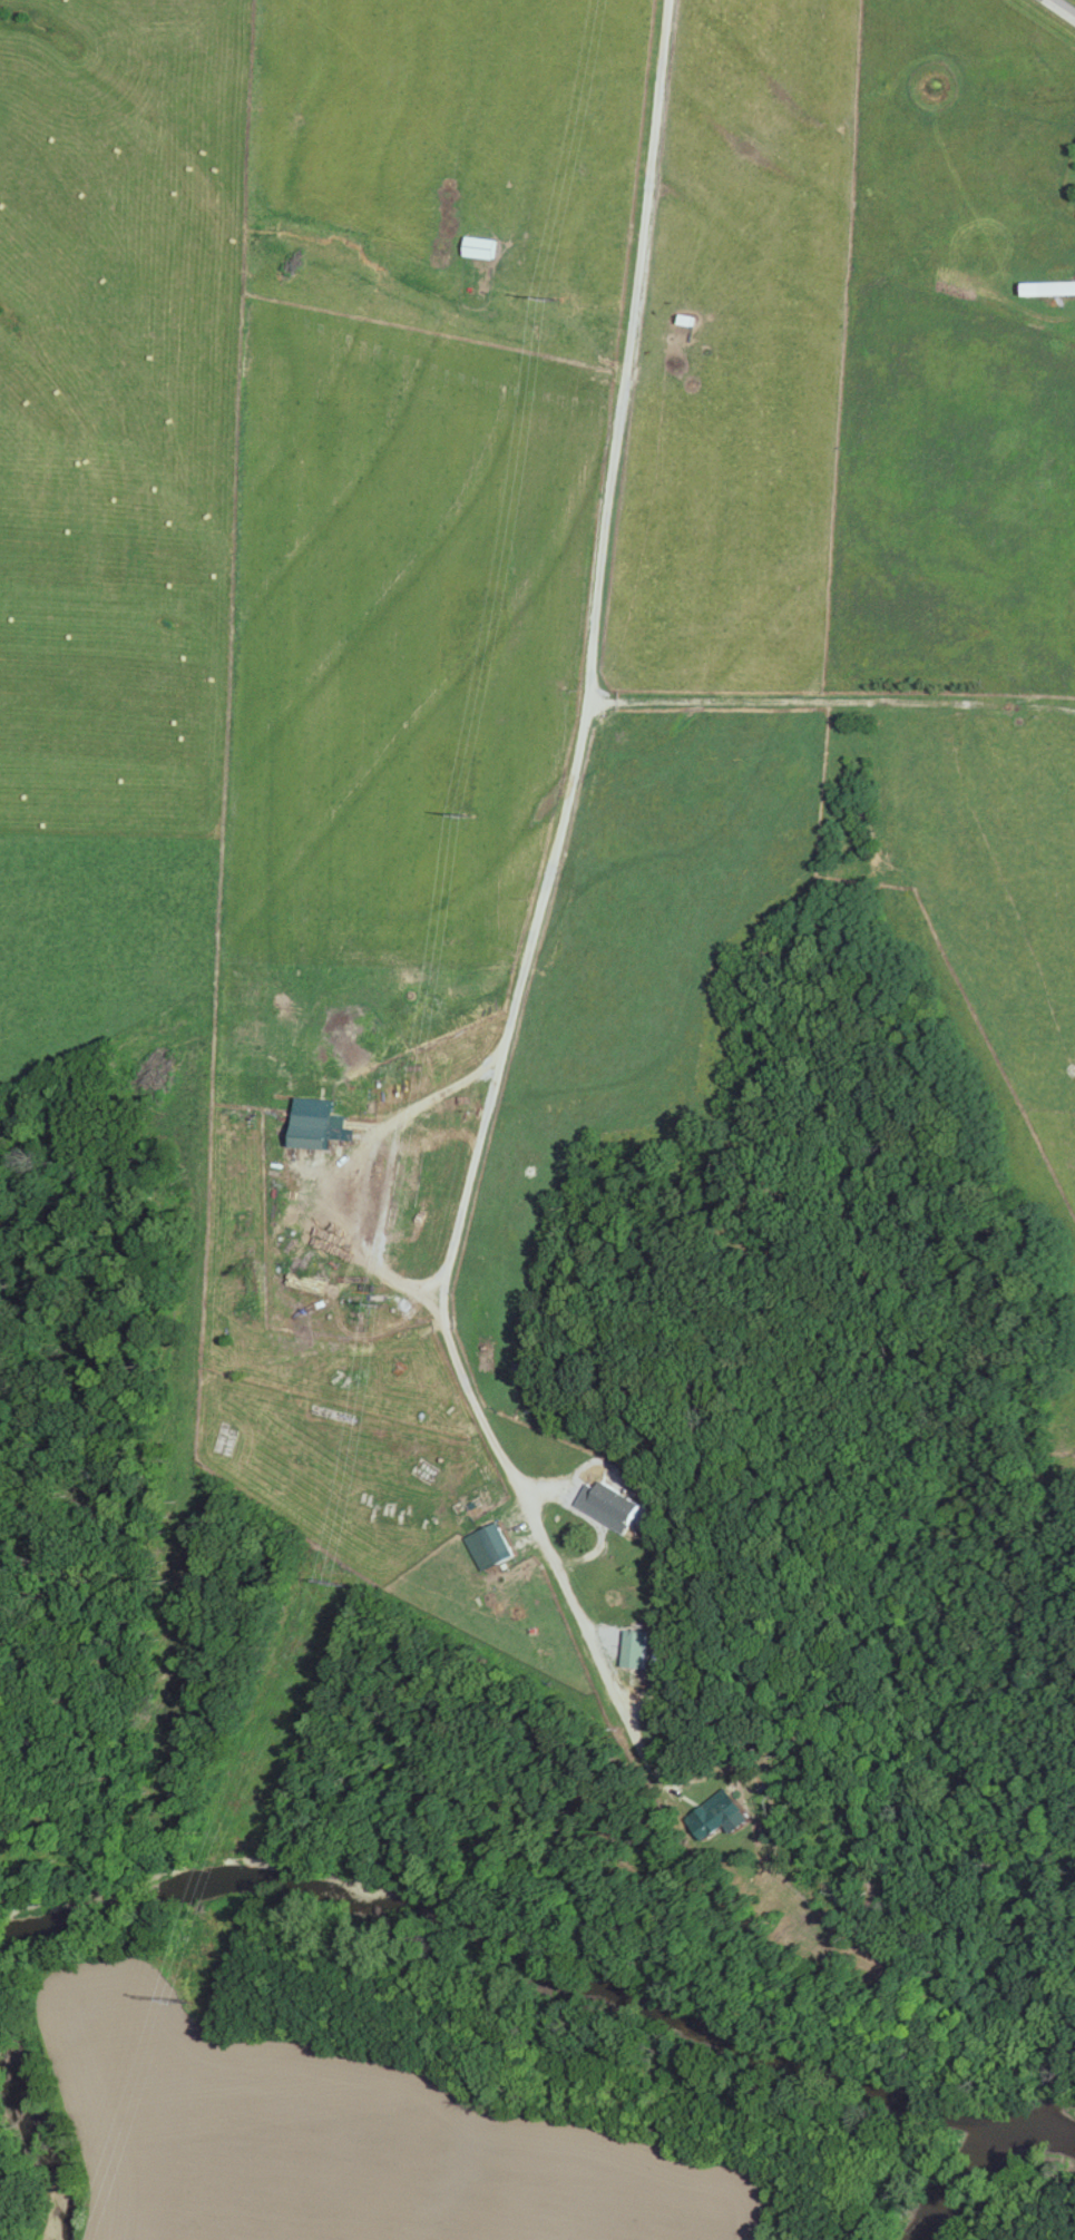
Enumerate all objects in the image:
road: (1064, 7)
building: (321, 1127)
building: (613, 1504)
building: (638, 1647)
building: (729, 1813)
river: (986, 2162)

